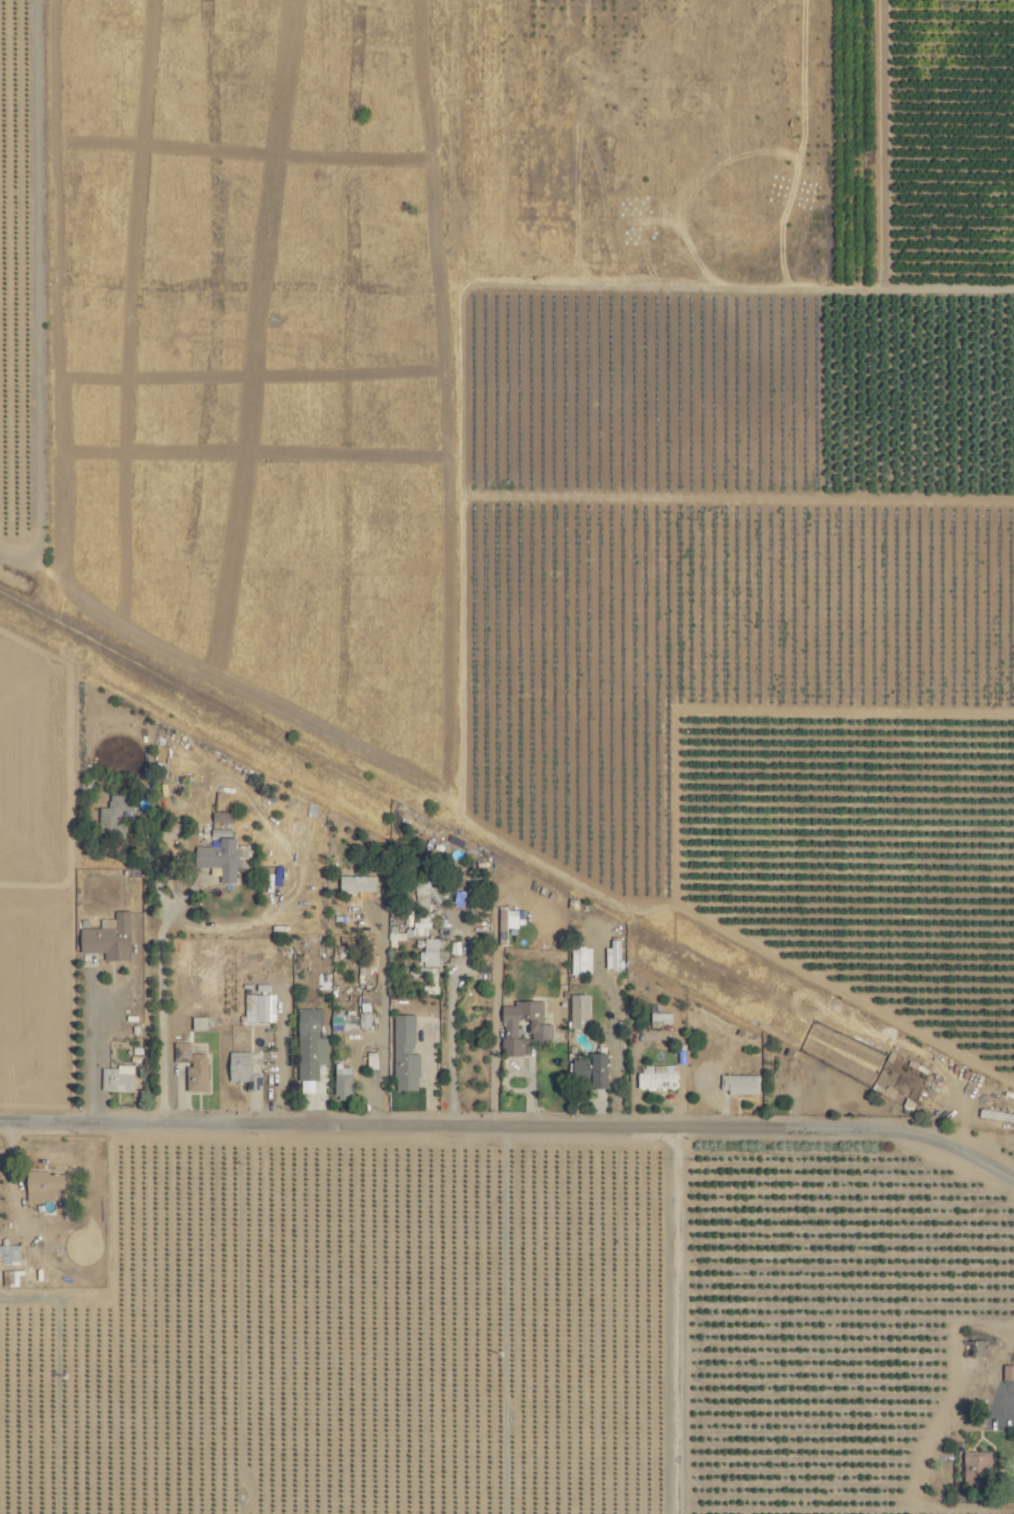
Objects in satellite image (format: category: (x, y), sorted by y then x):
crop: (24, 227)
crop: (260, 393)
building: (112, 812)
building: (220, 817)
crop: (650, 847)
building: (221, 856)
building: (355, 884)
building: (410, 927)
building: (106, 937)
building: (611, 955)
building: (578, 961)
building: (428, 966)
building: (257, 1008)
building: (577, 1011)
road: (381, 1013)
road: (160, 1014)
building: (363, 1016)
building: (657, 1016)
building: (341, 1020)
building: (198, 1023)
building: (521, 1026)
building: (308, 1044)
road: (450, 1046)
road: (92, 1052)
building: (403, 1054)
building: (369, 1060)
building: (191, 1067)
building: (239, 1070)
building: (589, 1070)
building: (116, 1078)
building: (655, 1078)
building: (340, 1080)
building: (738, 1084)
building: (994, 1115)
road: (514, 1127)
building: (40, 1185)
road: (10, 1186)
building: (8, 1255)
road: (111, 1263)
building: (1007, 1372)
building: (973, 1468)

